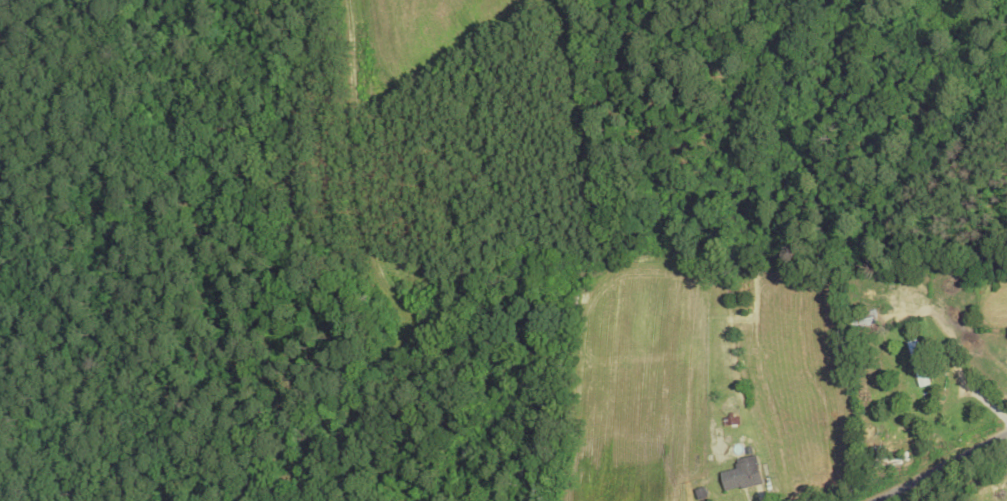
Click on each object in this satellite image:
building: (866, 324)
building: (718, 345)
building: (919, 364)
road: (935, 465)
building: (742, 476)

